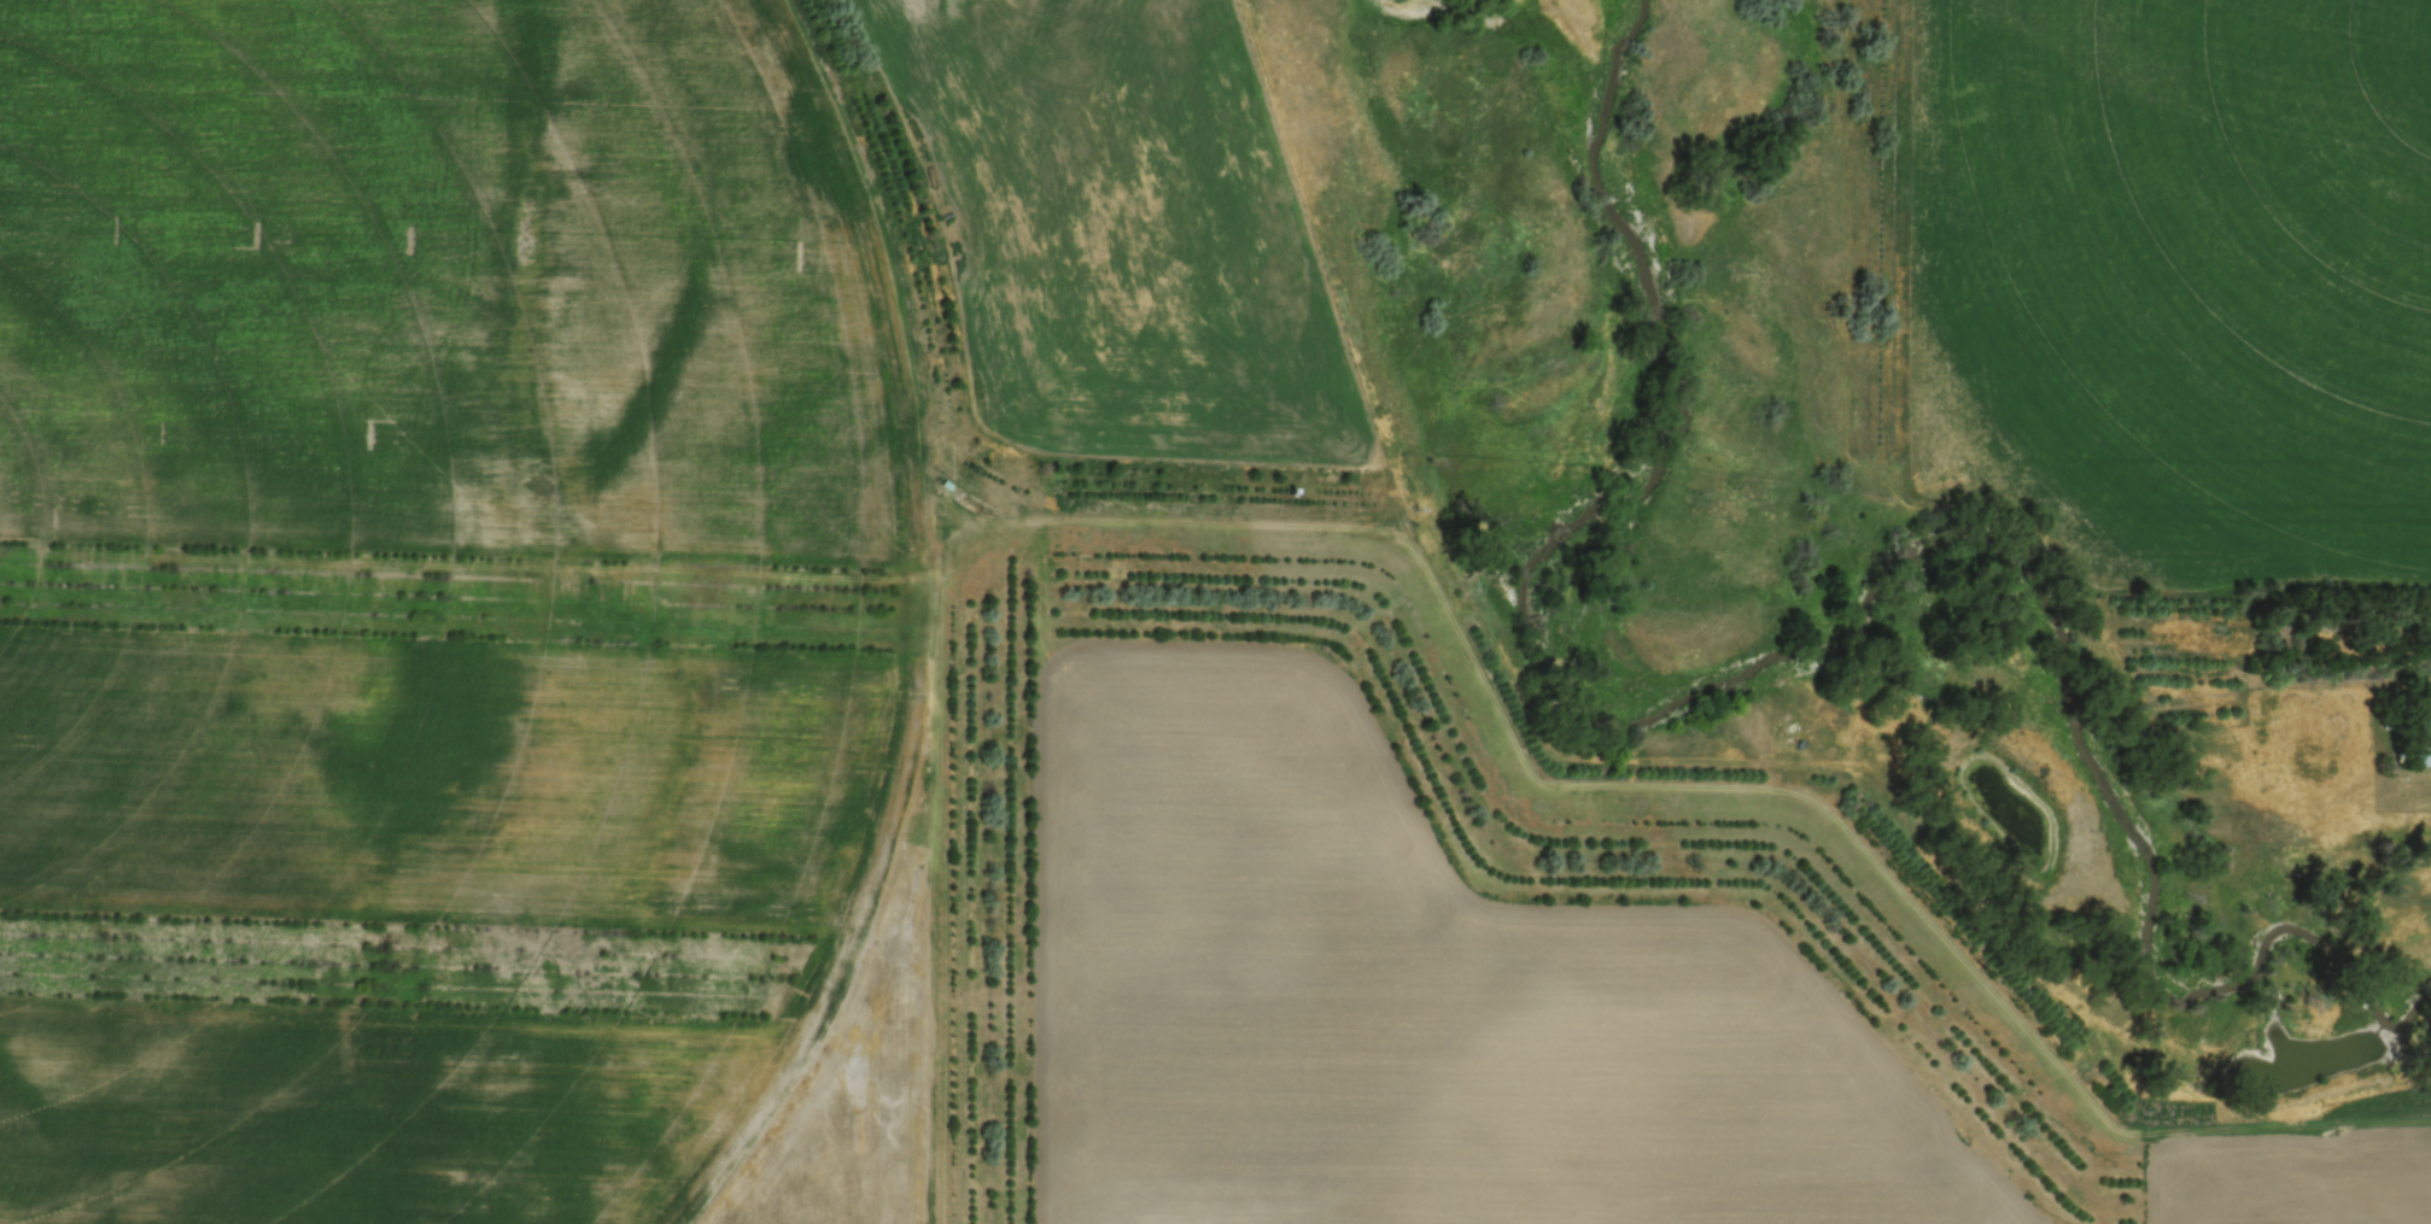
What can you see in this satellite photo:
crop: (1127, 229)
crop: (445, 275)
crop: (2184, 281)
building: (2427, 719)
building: (2423, 759)
crop: (404, 916)
crop: (1420, 994)

